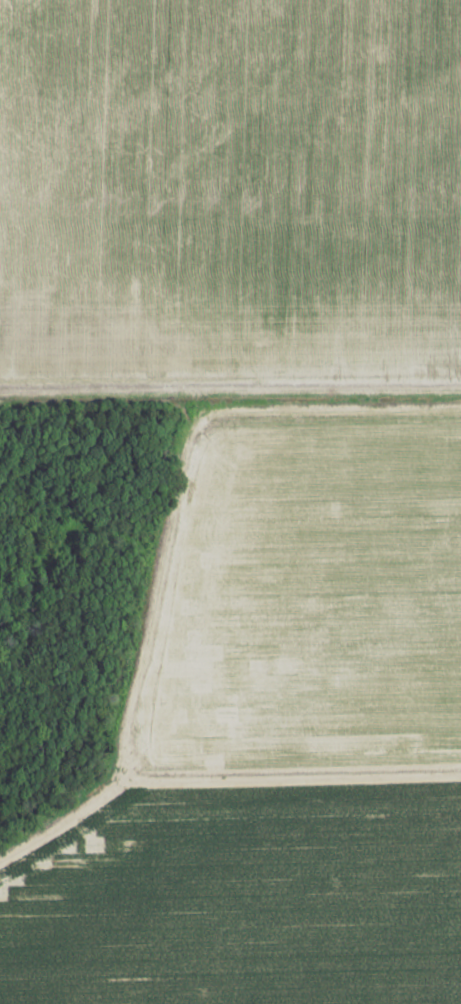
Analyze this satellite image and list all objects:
road: (411, 977)

